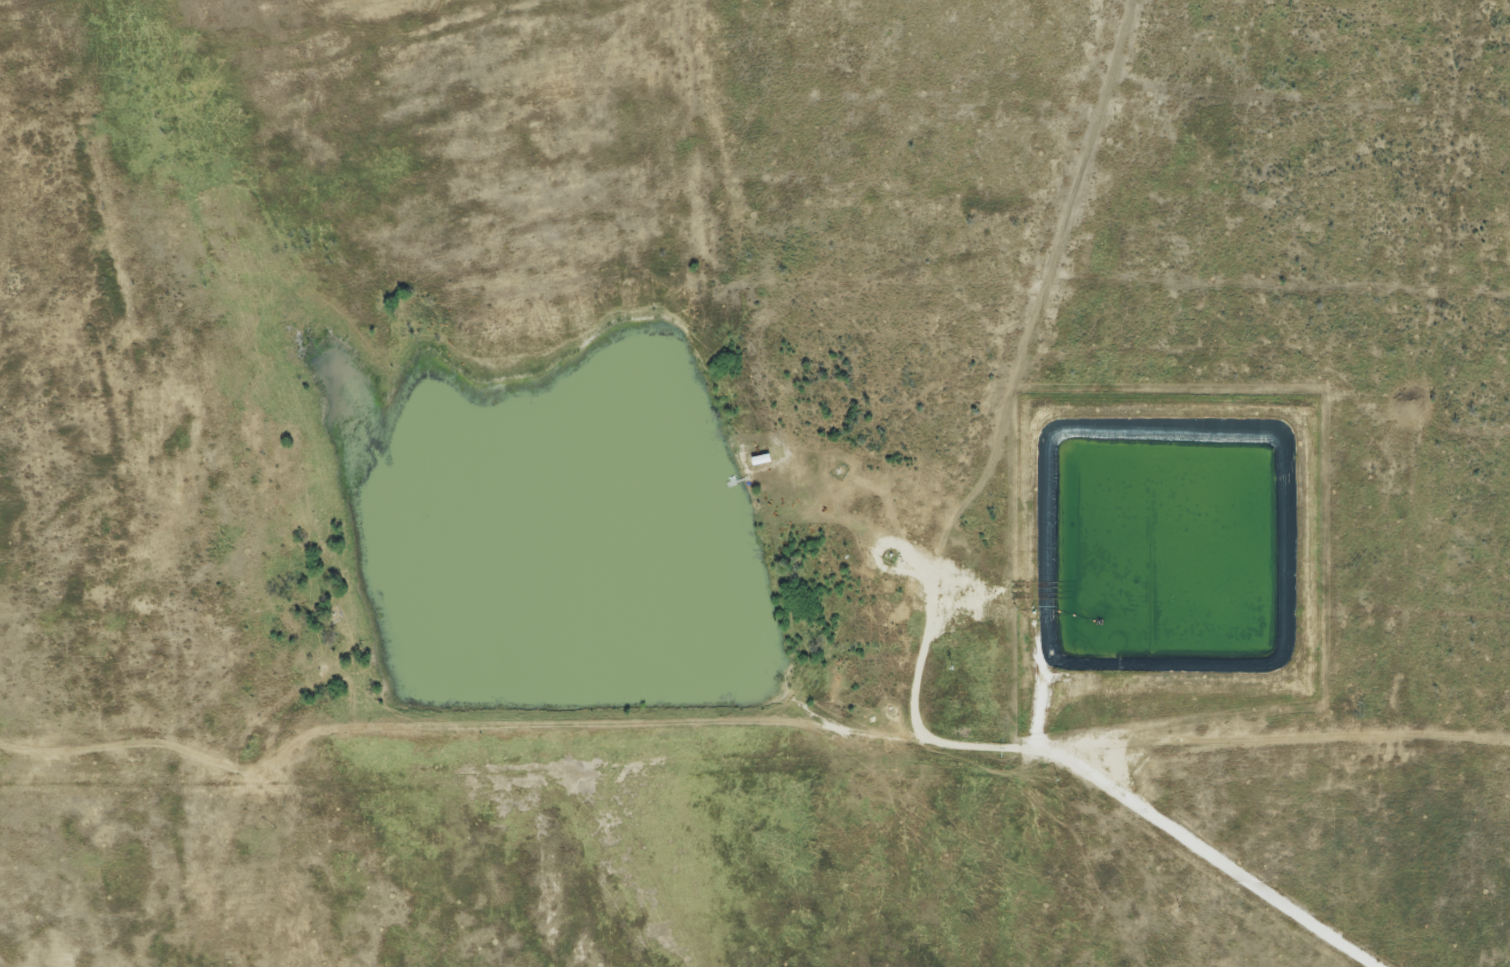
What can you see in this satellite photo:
road: (1193, 858)

